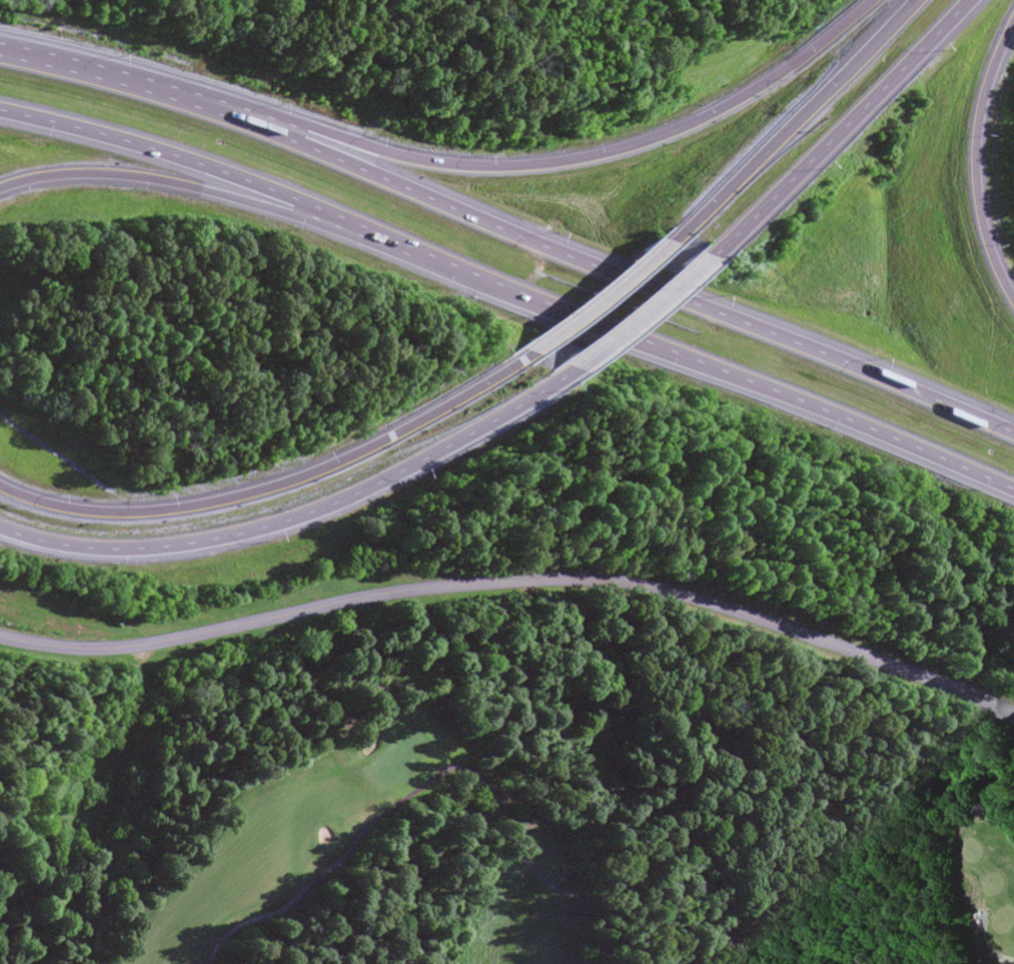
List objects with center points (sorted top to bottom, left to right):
road: (914, 1)
road: (792, 124)
road: (845, 125)
road: (973, 164)
road: (451, 166)
road: (197, 167)
road: (196, 187)
road: (512, 227)
road: (605, 303)
road: (650, 311)
road: (702, 364)
road: (280, 489)
road: (304, 517)
road: (513, 581)
park: (484, 822)
park: (561, 835)

